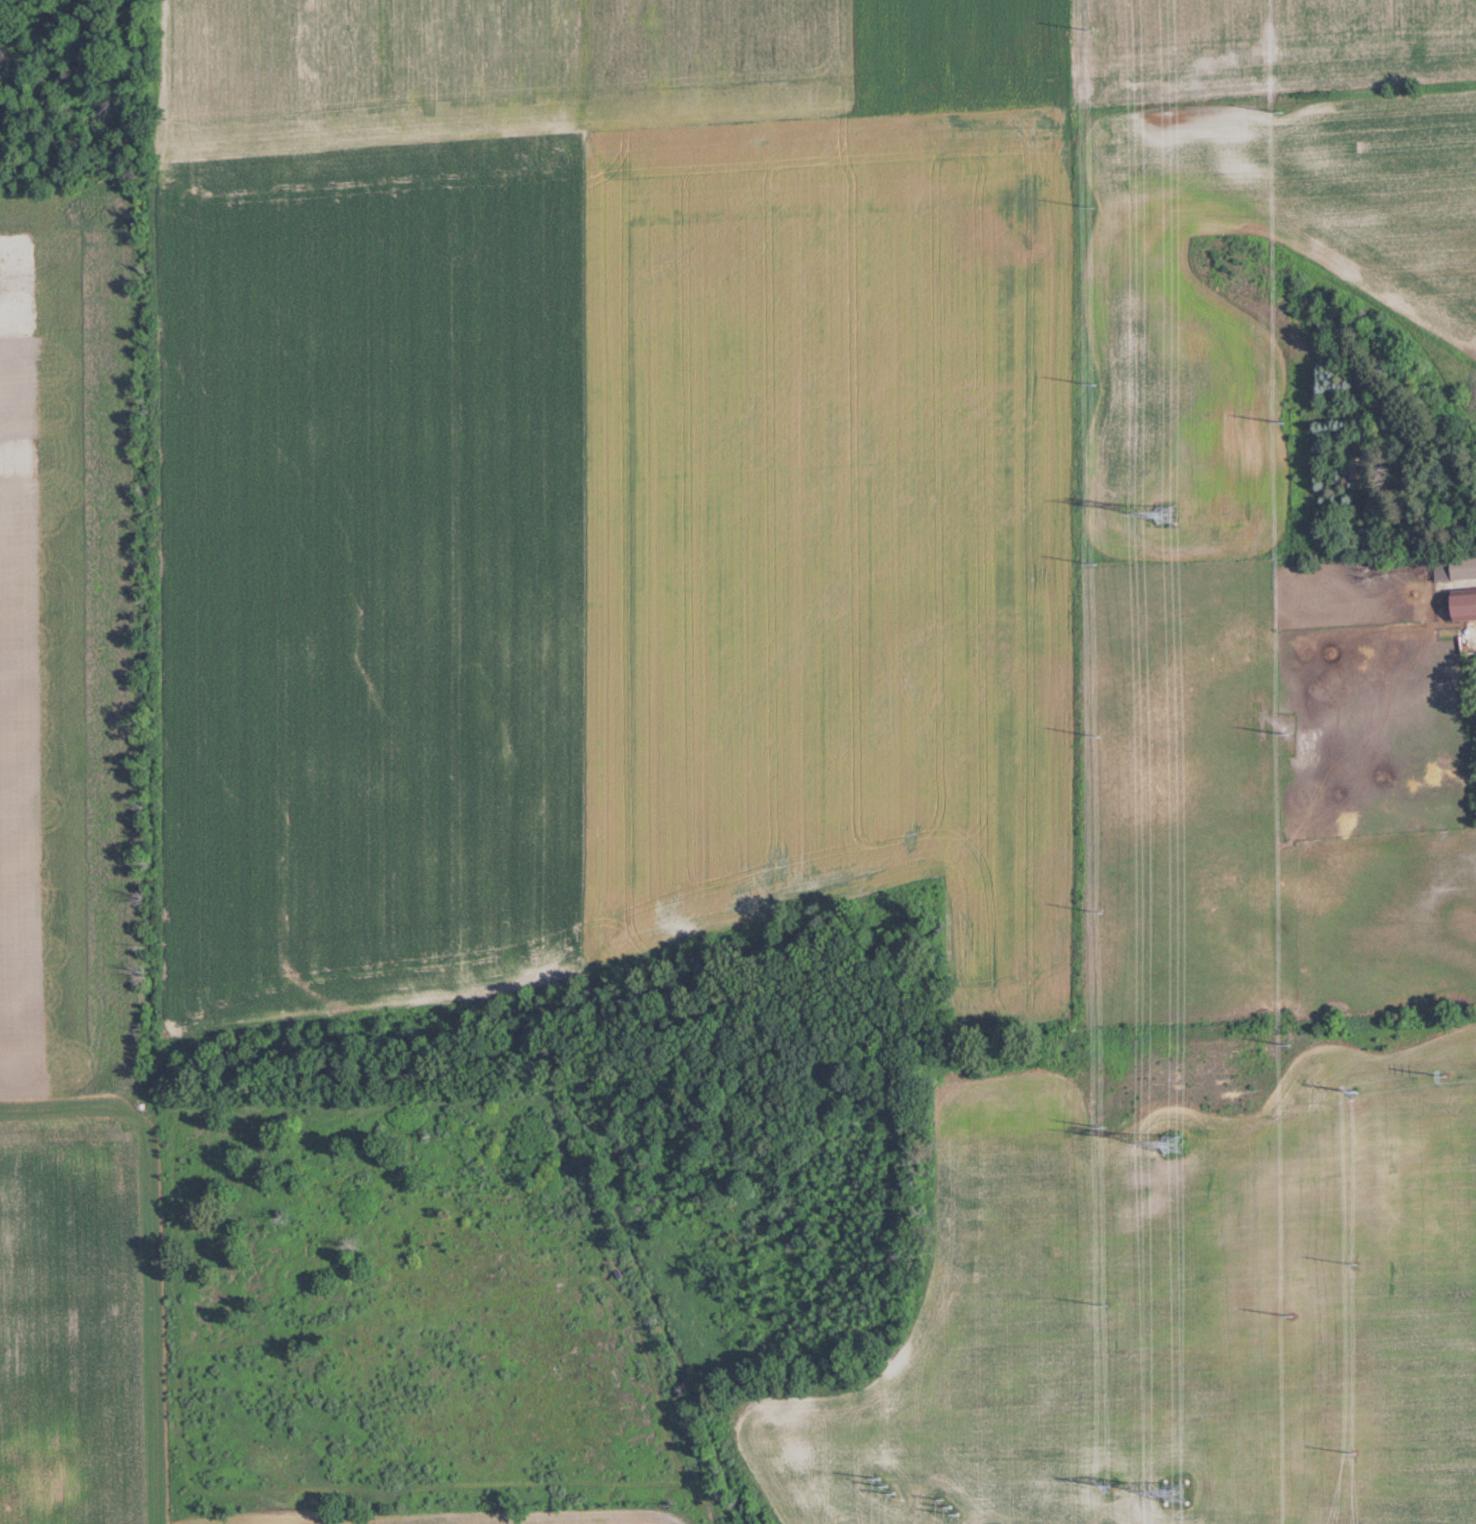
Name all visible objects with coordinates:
power tower: (1090, 30)
power tower: (1280, 112)
power tower: (1092, 207)
power tower: (1093, 384)
power tower: (1283, 419)
power tower: (1169, 513)
power tower: (1095, 562)
building: (1458, 568)
building: (1469, 604)
power tower: (1286, 732)
power tower: (1098, 737)
power tower: (1102, 914)
power tower: (1289, 1043)
power tower: (1104, 1127)
power tower: (1175, 1145)
power tower: (1108, 1305)
power tower: (1292, 1316)
power tower: (1177, 1492)

